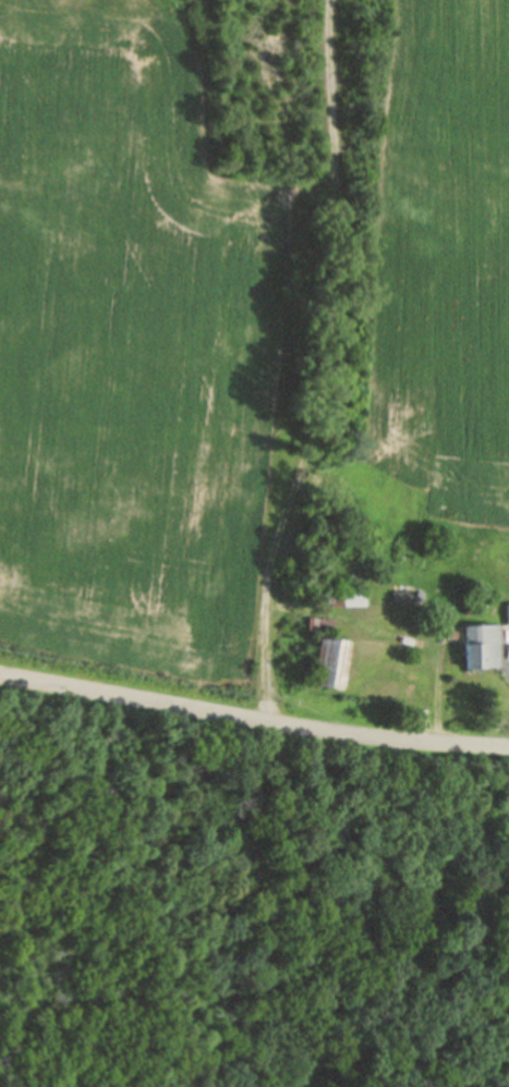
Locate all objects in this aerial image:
quarry: (335, 89)
road: (322, 364)
building: (403, 595)
building: (344, 598)
building: (508, 612)
building: (323, 623)
road: (396, 634)
building: (482, 646)
building: (328, 661)
road: (253, 720)

